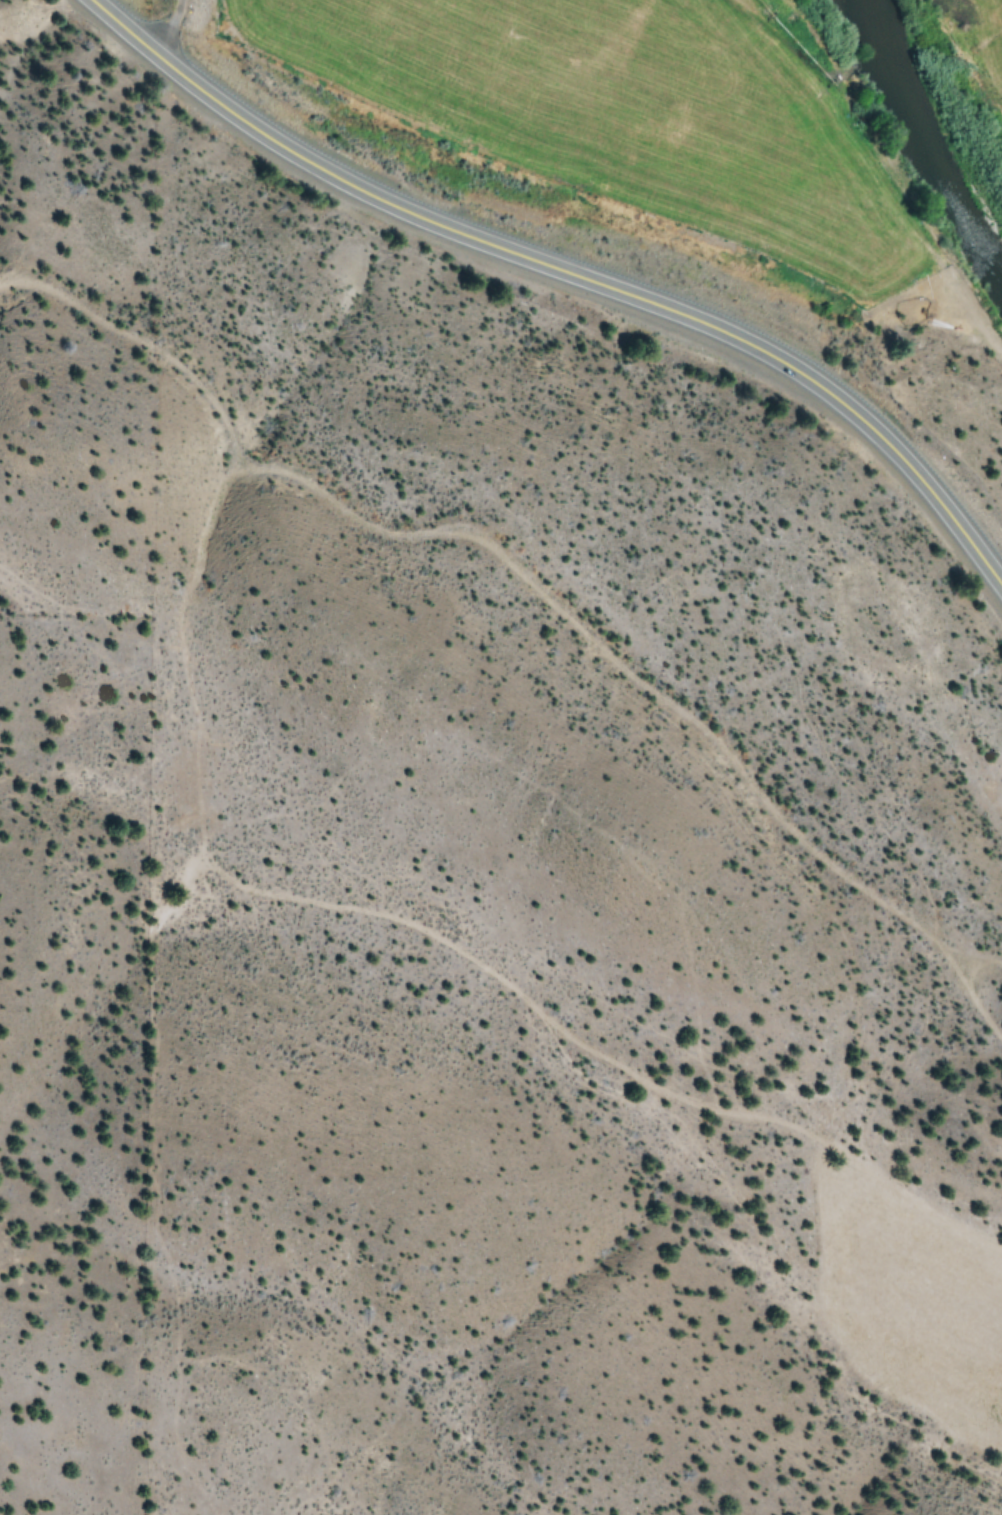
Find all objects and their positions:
road: (172, 26)
river: (930, 129)
road: (568, 271)
road: (973, 991)

